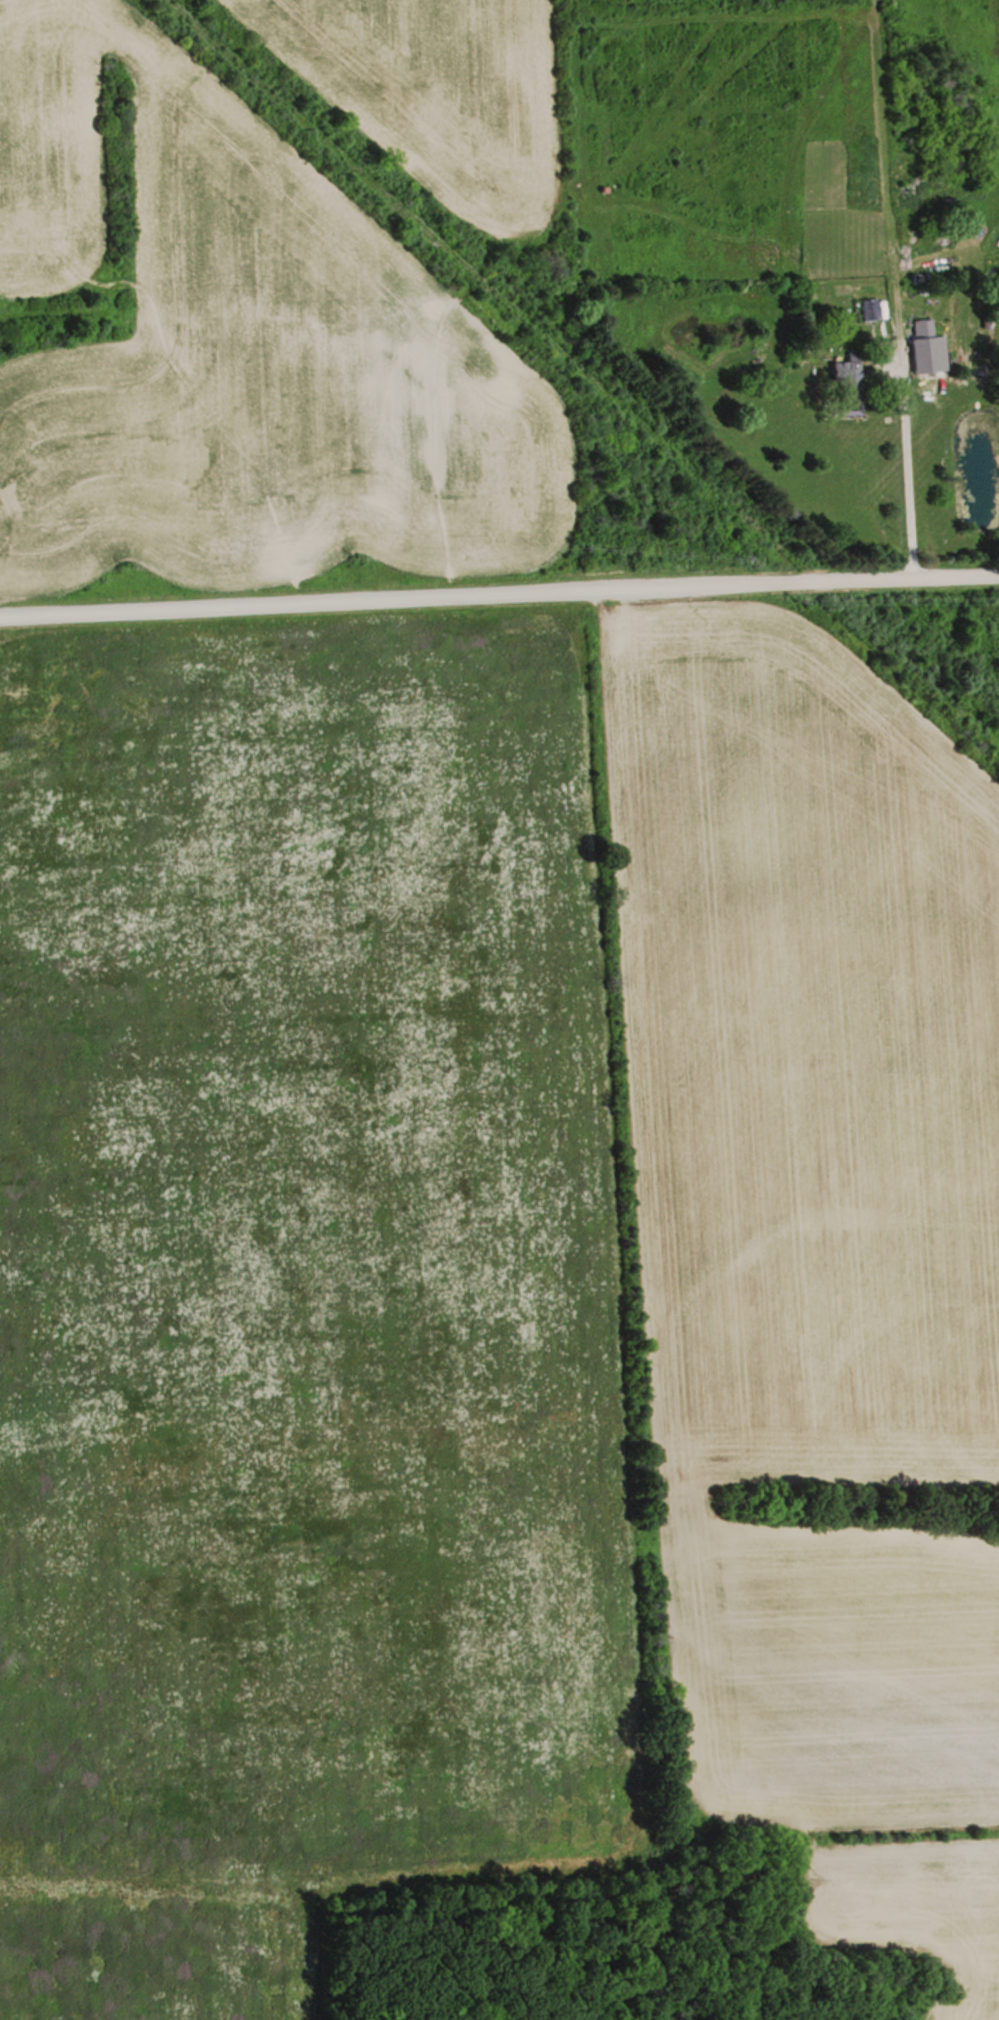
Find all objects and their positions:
building: (919, 207)
building: (868, 310)
building: (926, 349)
railway: (580, 371)
building: (850, 384)
road: (499, 593)

